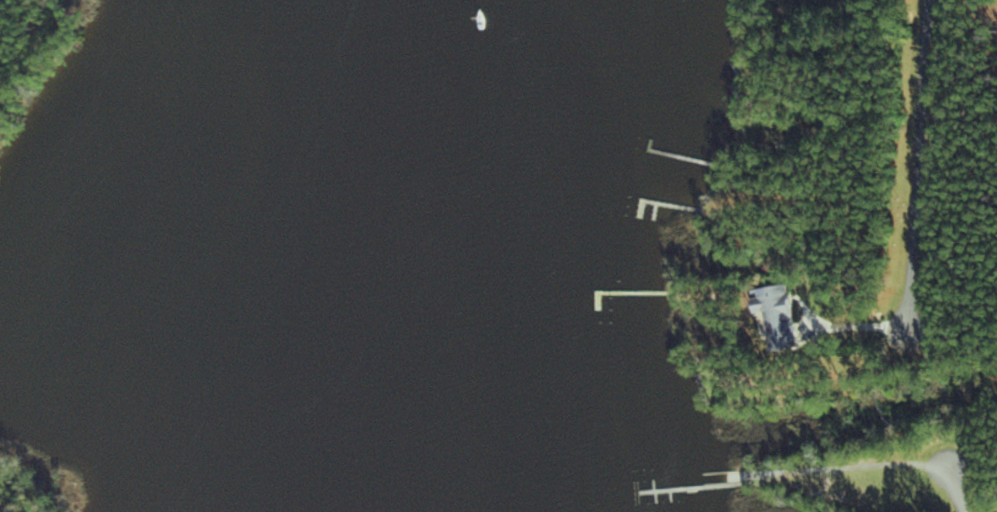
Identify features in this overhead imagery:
building: (839, 1)
road: (924, 161)
building: (783, 316)
road: (965, 499)

